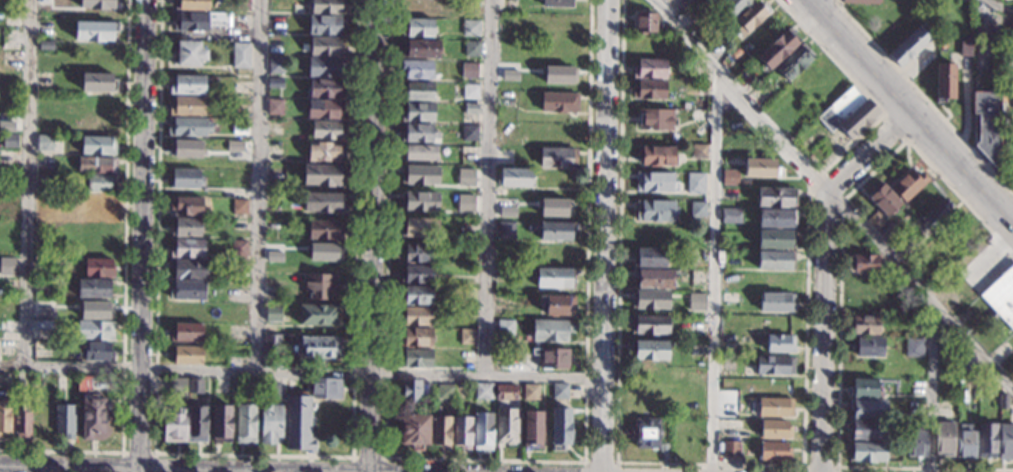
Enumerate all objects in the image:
building: (860, 1)
building: (674, 2)
building: (713, 2)
building: (556, 3)
road: (808, 3)
road: (834, 3)
building: (99, 4)
building: (191, 4)
building: (241, 4)
building: (328, 6)
building: (733, 6)
road: (997, 6)
building: (421, 7)
building: (750, 17)
building: (191, 22)
building: (645, 23)
building: (327, 25)
building: (419, 28)
building: (471, 28)
building: (95, 31)
building: (914, 41)
building: (45, 45)
building: (326, 47)
building: (965, 47)
building: (471, 48)
building: (650, 48)
building: (778, 48)
building: (420, 49)
building: (188, 54)
building: (240, 55)
building: (794, 62)
building: (276, 64)
building: (325, 66)
building: (417, 68)
building: (650, 69)
building: (469, 70)
building: (559, 74)
building: (99, 81)
building: (744, 81)
building: (275, 82)
building: (944, 82)
building: (1009, 82)
building: (187, 85)
building: (703, 86)
building: (326, 89)
building: (649, 90)
building: (419, 91)
building: (470, 91)
road: (922, 98)
building: (559, 103)
road: (966, 105)
building: (186, 106)
building: (275, 107)
building: (702, 107)
building: (471, 108)
building: (324, 109)
building: (418, 112)
building: (848, 113)
road: (905, 114)
building: (698, 115)
building: (655, 120)
building: (7, 125)
building: (987, 125)
road: (895, 126)
building: (188, 127)
building: (240, 127)
building: (327, 130)
building: (469, 132)
building: (418, 133)
building: (734, 133)
building: (10, 140)
building: (45, 143)
building: (98, 145)
building: (235, 145)
building: (186, 149)
building: (325, 151)
building: (699, 151)
building: (421, 153)
building: (657, 155)
building: (558, 157)
building: (45, 164)
building: (97, 165)
building: (760, 168)
building: (323, 174)
building: (420, 175)
building: (466, 176)
building: (730, 177)
building: (240, 178)
building: (516, 178)
building: (184, 179)
road: (27, 182)
building: (655, 182)
building: (696, 183)
building: (100, 184)
road: (259, 184)
building: (908, 185)
road: (488, 187)
road: (834, 195)
building: (775, 197)
building: (883, 199)
building: (419, 201)
building: (323, 202)
building: (466, 202)
building: (97, 204)
building: (505, 205)
building: (185, 206)
building: (238, 206)
building: (552, 207)
building: (697, 209)
building: (655, 210)
building: (938, 214)
building: (731, 216)
building: (776, 218)
building: (876, 221)
building: (273, 226)
building: (187, 227)
building: (419, 227)
building: (324, 230)
building: (505, 230)
building: (553, 231)
road: (143, 236)
road: (375, 236)
road: (605, 236)
building: (775, 239)
building: (902, 246)
building: (188, 248)
building: (238, 248)
building: (419, 252)
building: (320, 253)
building: (275, 255)
building: (649, 257)
building: (775, 260)
building: (863, 263)
building: (7, 265)
building: (99, 267)
building: (189, 269)
road: (715, 270)
building: (417, 274)
road: (824, 276)
building: (555, 278)
building: (653, 279)
road: (124, 286)
building: (320, 286)
building: (93, 288)
building: (187, 290)
building: (417, 295)
building: (468, 295)
building: (695, 295)
building: (1001, 296)
road: (838, 297)
building: (729, 298)
building: (503, 299)
building: (649, 299)
building: (776, 302)
building: (556, 304)
building: (94, 310)
building: (186, 311)
building: (46, 312)
building: (272, 313)
building: (319, 315)
building: (417, 316)
building: (43, 325)
building: (648, 325)
building: (7, 326)
building: (865, 326)
building: (505, 327)
building: (95, 330)
building: (551, 330)
building: (186, 332)
building: (467, 336)
building: (417, 337)
building: (501, 343)
building: (780, 343)
building: (868, 346)
building: (914, 347)
building: (304, 349)
building: (649, 350)
building: (96, 351)
building: (1003, 351)
building: (501, 353)
building: (186, 354)
building: (416, 358)
building: (551, 358)
building: (965, 363)
building: (775, 365)
road: (301, 369)
building: (4, 381)
building: (41, 383)
building: (83, 383)
building: (178, 386)
building: (195, 386)
building: (290, 386)
building: (775, 386)
building: (917, 387)
building: (325, 388)
building: (865, 389)
road: (933, 389)
building: (272, 390)
building: (409, 391)
building: (426, 391)
building: (483, 391)
building: (559, 391)
building: (445, 392)
building: (505, 392)
building: (530, 392)
building: (1003, 401)
building: (728, 405)
building: (775, 407)
building: (866, 409)
building: (5, 415)
building: (94, 417)
building: (44, 420)
building: (65, 420)
building: (22, 422)
building: (298, 422)
building: (197, 423)
building: (271, 423)
building: (221, 424)
building: (245, 424)
building: (733, 424)
building: (174, 426)
building: (506, 426)
building: (560, 428)
building: (532, 429)
building: (775, 430)
building: (868, 430)
building: (414, 431)
building: (441, 431)
building: (482, 431)
building: (462, 432)
building: (646, 432)
building: (945, 439)
building: (965, 441)
building: (987, 441)
building: (915, 442)
building: (1005, 442)
building: (731, 449)
building: (663, 451)
building: (775, 451)
road: (138, 452)
building: (866, 452)
road: (255, 455)
road: (367, 457)
road: (485, 459)
road: (599, 461)
road: (749, 465)
road: (820, 466)
road: (151, 469)

